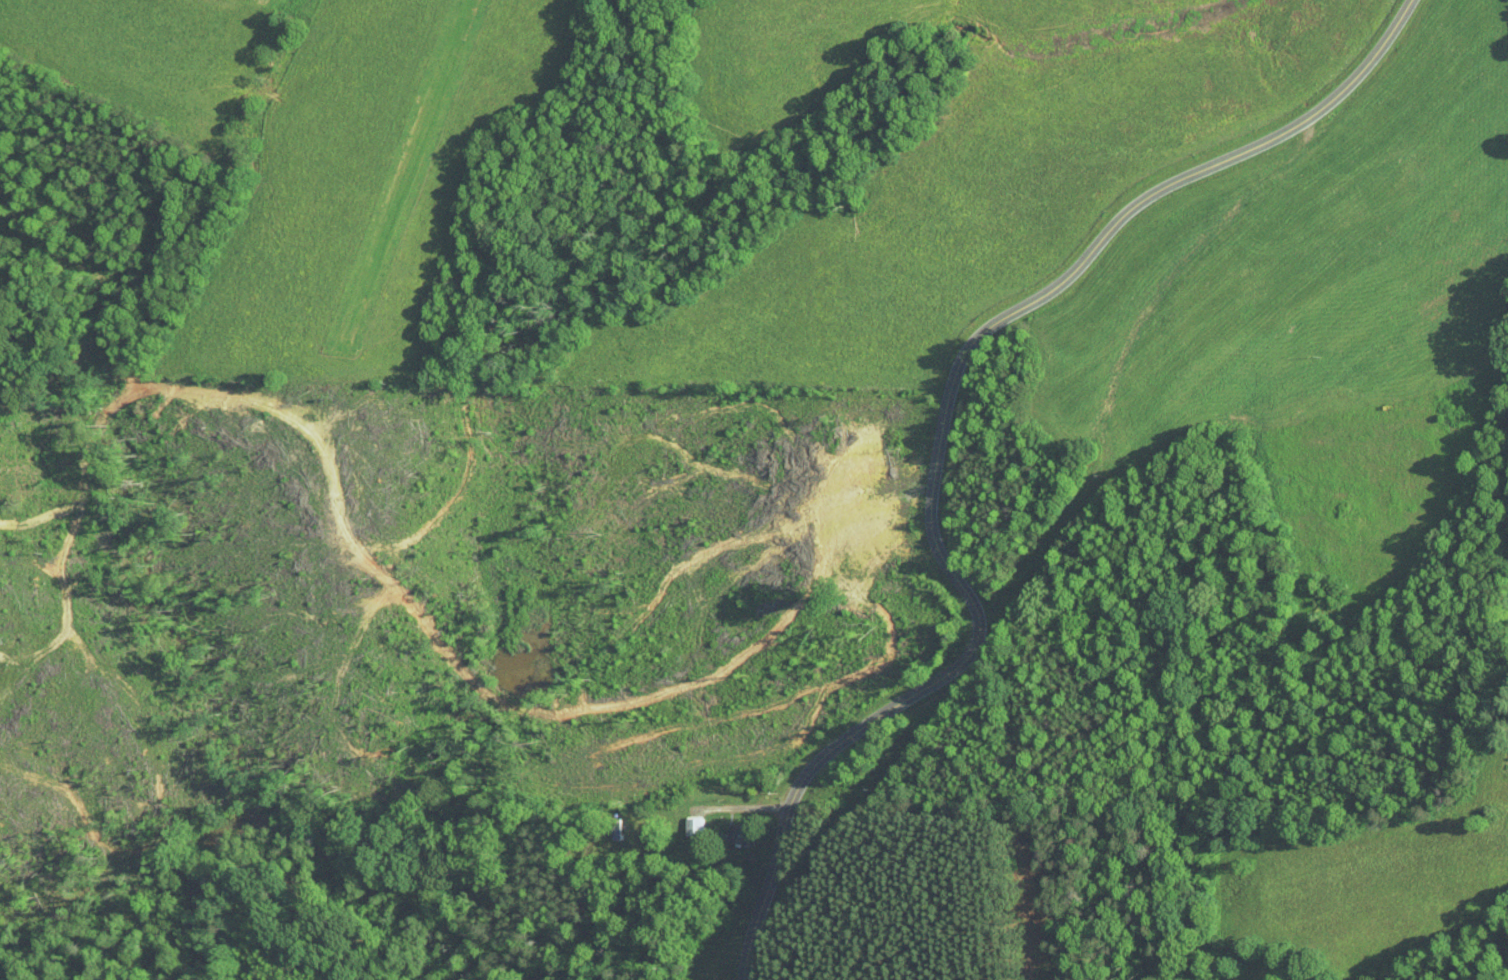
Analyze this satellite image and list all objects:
road: (937, 444)
building: (681, 816)
building: (726, 829)

